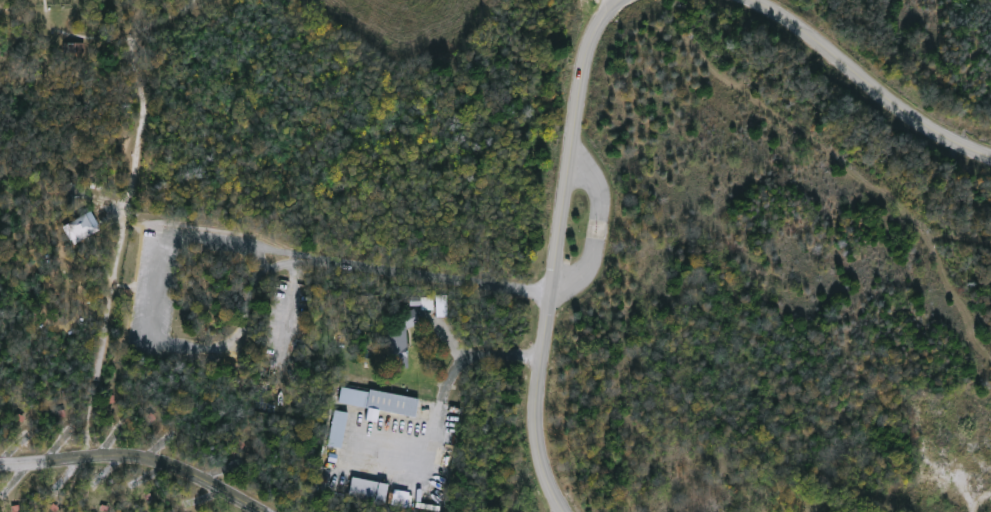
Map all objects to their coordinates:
road: (615, 0)
road: (168, 24)
road: (66, 34)
building: (73, 50)
road: (873, 83)
road: (137, 167)
road: (596, 220)
building: (82, 226)
road: (211, 242)
road: (556, 252)
park: (495, 256)
road: (285, 265)
parking lot: (159, 285)
road: (134, 286)
building: (427, 298)
building: (441, 304)
building: (409, 316)
road: (444, 335)
building: (397, 348)
road: (466, 357)
road: (99, 370)
building: (378, 400)
building: (336, 427)
road: (138, 457)
building: (366, 487)

